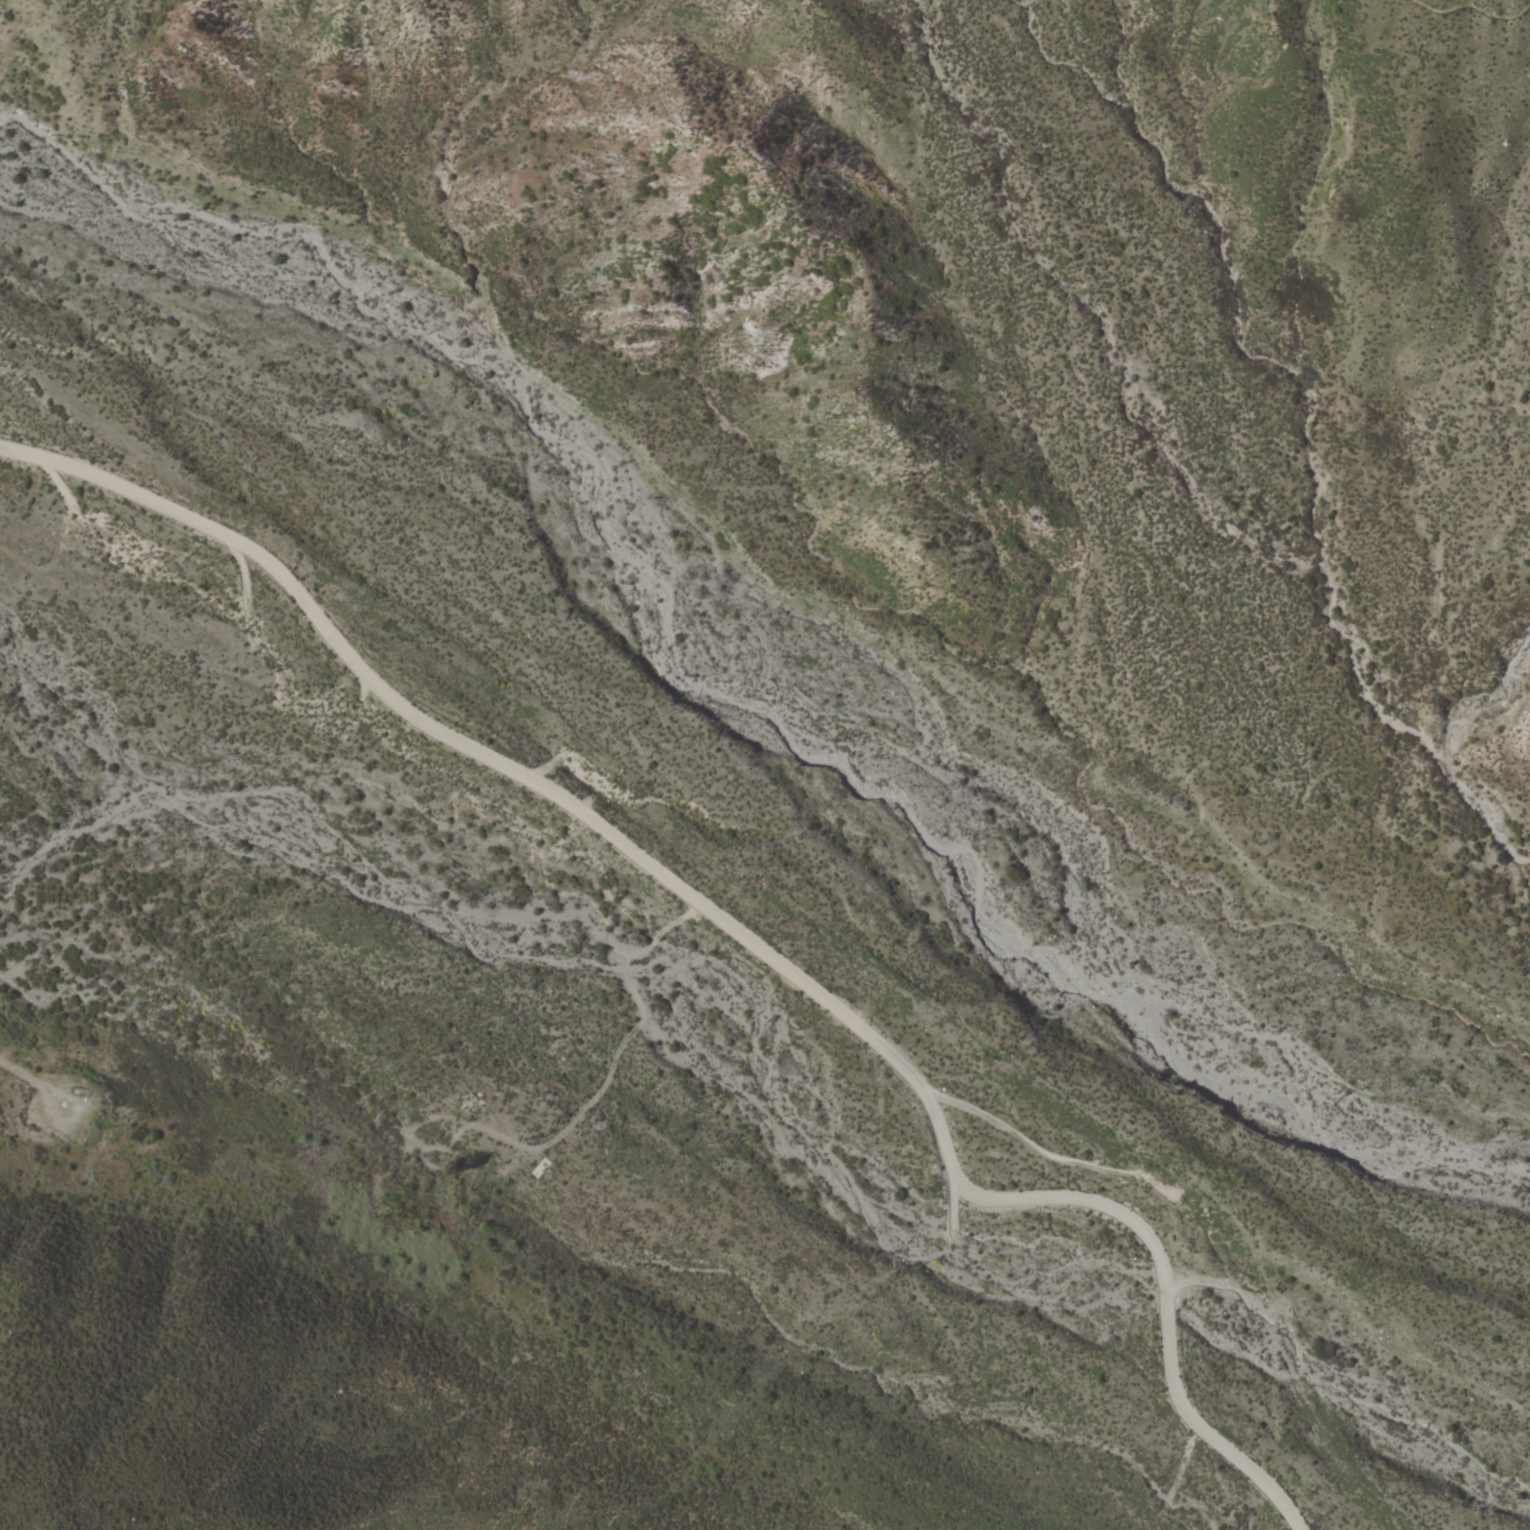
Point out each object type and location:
road: (1472, 6)
road: (737, 931)
road: (21, 1072)
road: (609, 1072)
road: (71, 1117)

